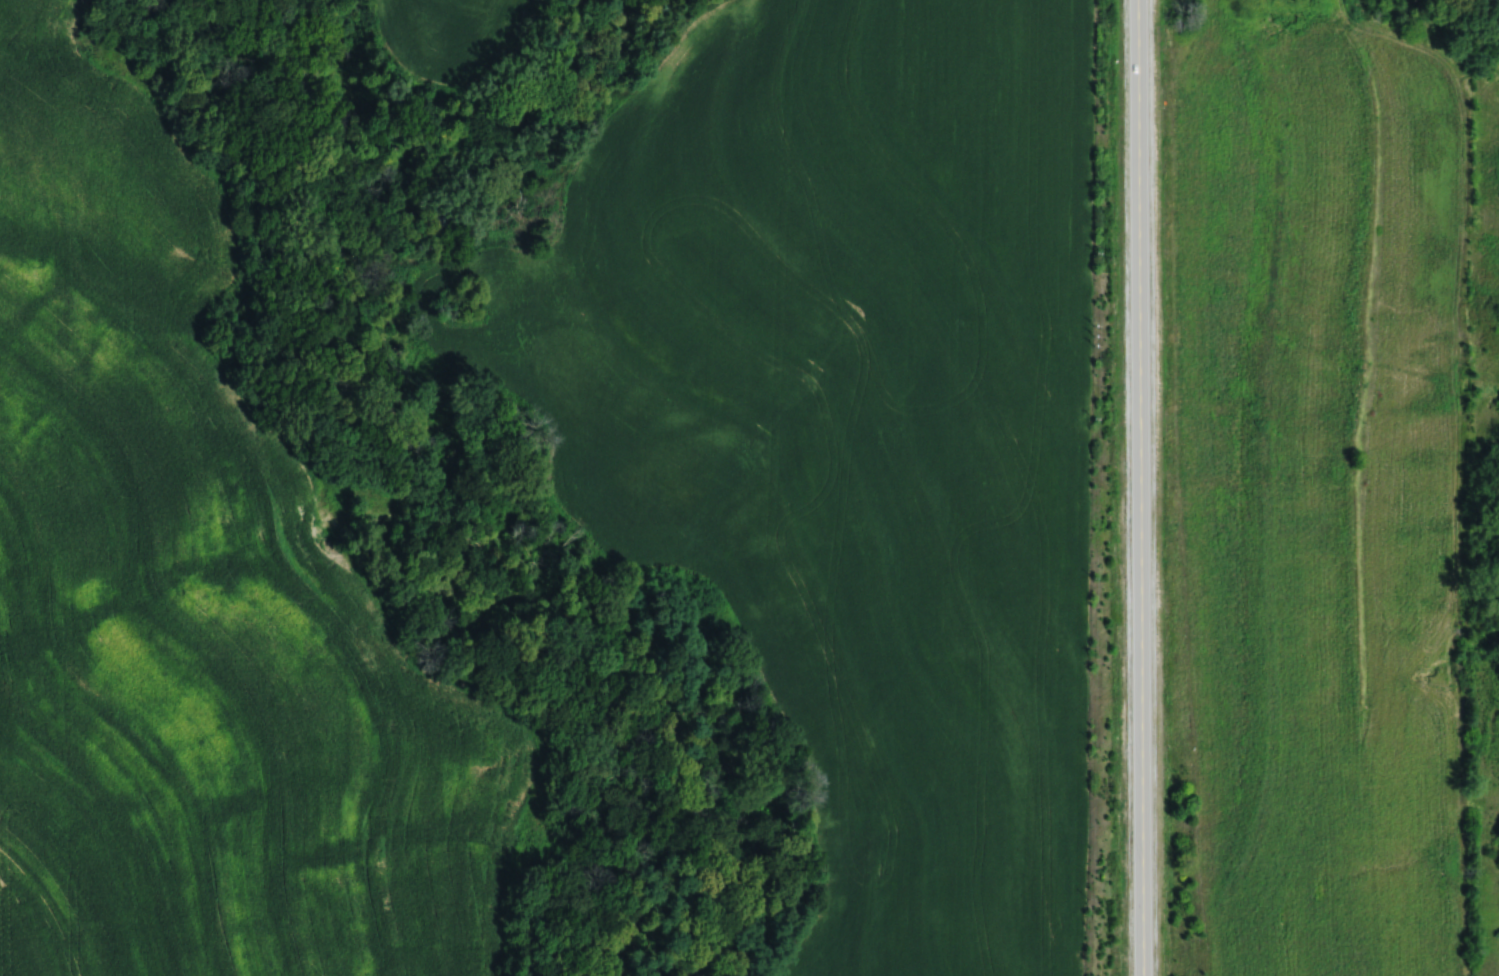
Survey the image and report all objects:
building: (441, 227)
road: (1142, 487)

